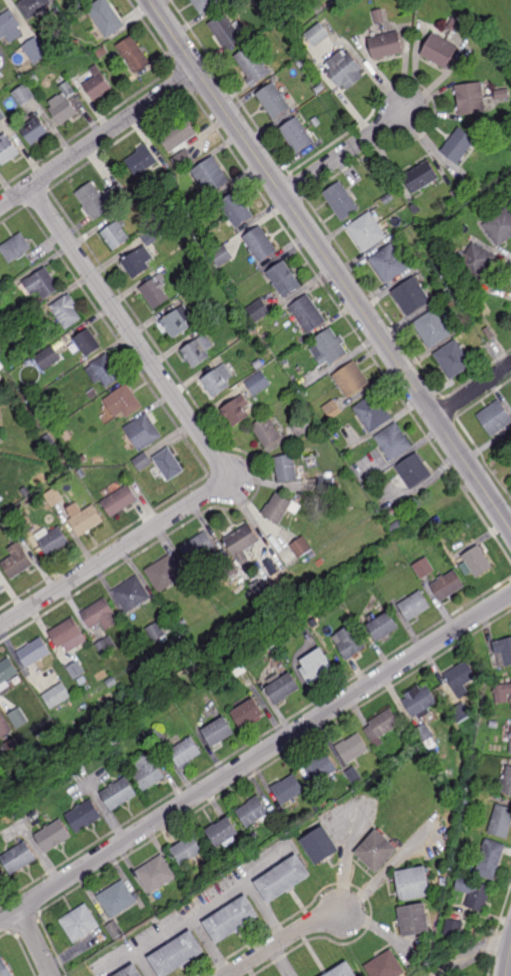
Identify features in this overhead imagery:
building: (83, 0)
building: (325, 1)
building: (277, 3)
building: (206, 4)
building: (78, 5)
building: (33, 7)
building: (319, 8)
building: (378, 15)
building: (106, 17)
building: (453, 24)
building: (10, 26)
building: (227, 30)
building: (317, 34)
building: (73, 43)
building: (386, 44)
building: (34, 49)
building: (439, 50)
building: (102, 51)
building: (134, 53)
building: (302, 62)
building: (253, 64)
building: (344, 69)
building: (13, 75)
building: (0, 76)
building: (32, 78)
building: (0, 79)
building: (98, 84)
building: (320, 89)
building: (24, 93)
building: (501, 94)
building: (470, 98)
building: (274, 100)
building: (64, 103)
building: (2, 115)
building: (316, 121)
building: (35, 128)
building: (179, 134)
building: (298, 134)
road: (99, 140)
building: (458, 145)
building: (9, 149)
road: (342, 155)
building: (184, 159)
building: (142, 160)
building: (210, 175)
building: (420, 176)
building: (383, 185)
building: (117, 193)
building: (453, 194)
building: (387, 199)
building: (93, 201)
building: (341, 201)
building: (213, 205)
building: (415, 208)
building: (238, 209)
building: (185, 215)
building: (500, 227)
building: (367, 232)
building: (116, 235)
building: (154, 235)
building: (261, 244)
building: (16, 248)
building: (222, 255)
building: (138, 262)
building: (476, 262)
building: (389, 263)
building: (23, 264)
road: (331, 264)
building: (1, 277)
building: (285, 279)
building: (437, 281)
building: (42, 284)
building: (231, 284)
building: (156, 288)
building: (410, 296)
building: (259, 310)
building: (67, 311)
building: (308, 313)
building: (449, 318)
building: (178, 322)
building: (251, 327)
building: (432, 329)
building: (487, 330)
building: (0, 332)
building: (267, 336)
building: (88, 342)
building: (328, 348)
building: (199, 350)
building: (48, 358)
building: (453, 359)
building: (259, 364)
building: (1, 366)
building: (104, 371)
building: (351, 379)
building: (218, 380)
building: (258, 383)
road: (473, 391)
building: (93, 394)
building: (123, 402)
building: (333, 409)
building: (237, 411)
building: (373, 413)
building: (495, 418)
building: (73, 419)
building: (1, 424)
building: (302, 426)
building: (268, 431)
building: (143, 432)
building: (0, 435)
building: (49, 441)
road: (205, 441)
building: (393, 442)
building: (69, 456)
building: (83, 459)
building: (143, 462)
building: (169, 464)
building: (287, 468)
building: (413, 471)
building: (82, 472)
building: (328, 483)
building: (25, 491)
building: (54, 496)
building: (120, 499)
building: (279, 506)
building: (297, 507)
building: (390, 513)
building: (85, 518)
building: (11, 526)
building: (395, 527)
building: (30, 532)
building: (52, 539)
building: (243, 542)
building: (199, 546)
building: (302, 546)
building: (227, 559)
building: (17, 560)
building: (478, 564)
building: (423, 568)
building: (164, 572)
building: (236, 573)
building: (255, 584)
building: (448, 585)
building: (1, 587)
building: (132, 594)
building: (415, 606)
building: (100, 614)
building: (183, 623)
building: (381, 625)
building: (156, 632)
building: (68, 635)
building: (350, 645)
building: (106, 646)
building: (35, 652)
building: (503, 654)
building: (194, 668)
building: (316, 668)
building: (76, 670)
building: (238, 670)
building: (7, 673)
building: (461, 678)
building: (111, 683)
building: (282, 689)
building: (503, 693)
building: (57, 696)
building: (420, 701)
building: (248, 714)
building: (461, 715)
building: (2, 716)
building: (18, 717)
building: (382, 725)
building: (494, 726)
building: (143, 731)
building: (218, 732)
building: (423, 734)
building: (158, 737)
building: (510, 737)
building: (115, 740)
building: (413, 746)
building: (5, 749)
building: (353, 749)
building: (510, 749)
building: (186, 753)
road: (255, 758)
building: (476, 758)
building: (388, 760)
building: (320, 768)
building: (148, 772)
building: (354, 776)
building: (506, 782)
building: (491, 788)
building: (289, 789)
building: (119, 794)
building: (319, 796)
building: (466, 801)
building: (325, 804)
building: (316, 808)
building: (254, 812)
building: (274, 813)
building: (84, 816)
building: (501, 822)
building: (223, 833)
building: (253, 835)
building: (447, 835)
building: (53, 836)
building: (320, 846)
building: (187, 850)
building: (376, 851)
building: (18, 858)
building: (490, 860)
building: (156, 874)
building: (2, 876)
building: (284, 878)
building: (414, 884)
building: (473, 893)
building: (117, 899)
building: (413, 920)
building: (233, 921)
building: (80, 924)
building: (453, 930)
building: (115, 931)
building: (100, 939)
road: (33, 943)
road: (286, 943)
road: (473, 954)
building: (177, 955)
road: (508, 962)
building: (386, 966)
building: (5, 968)
building: (344, 971)
building: (131, 972)
road: (439, 975)

